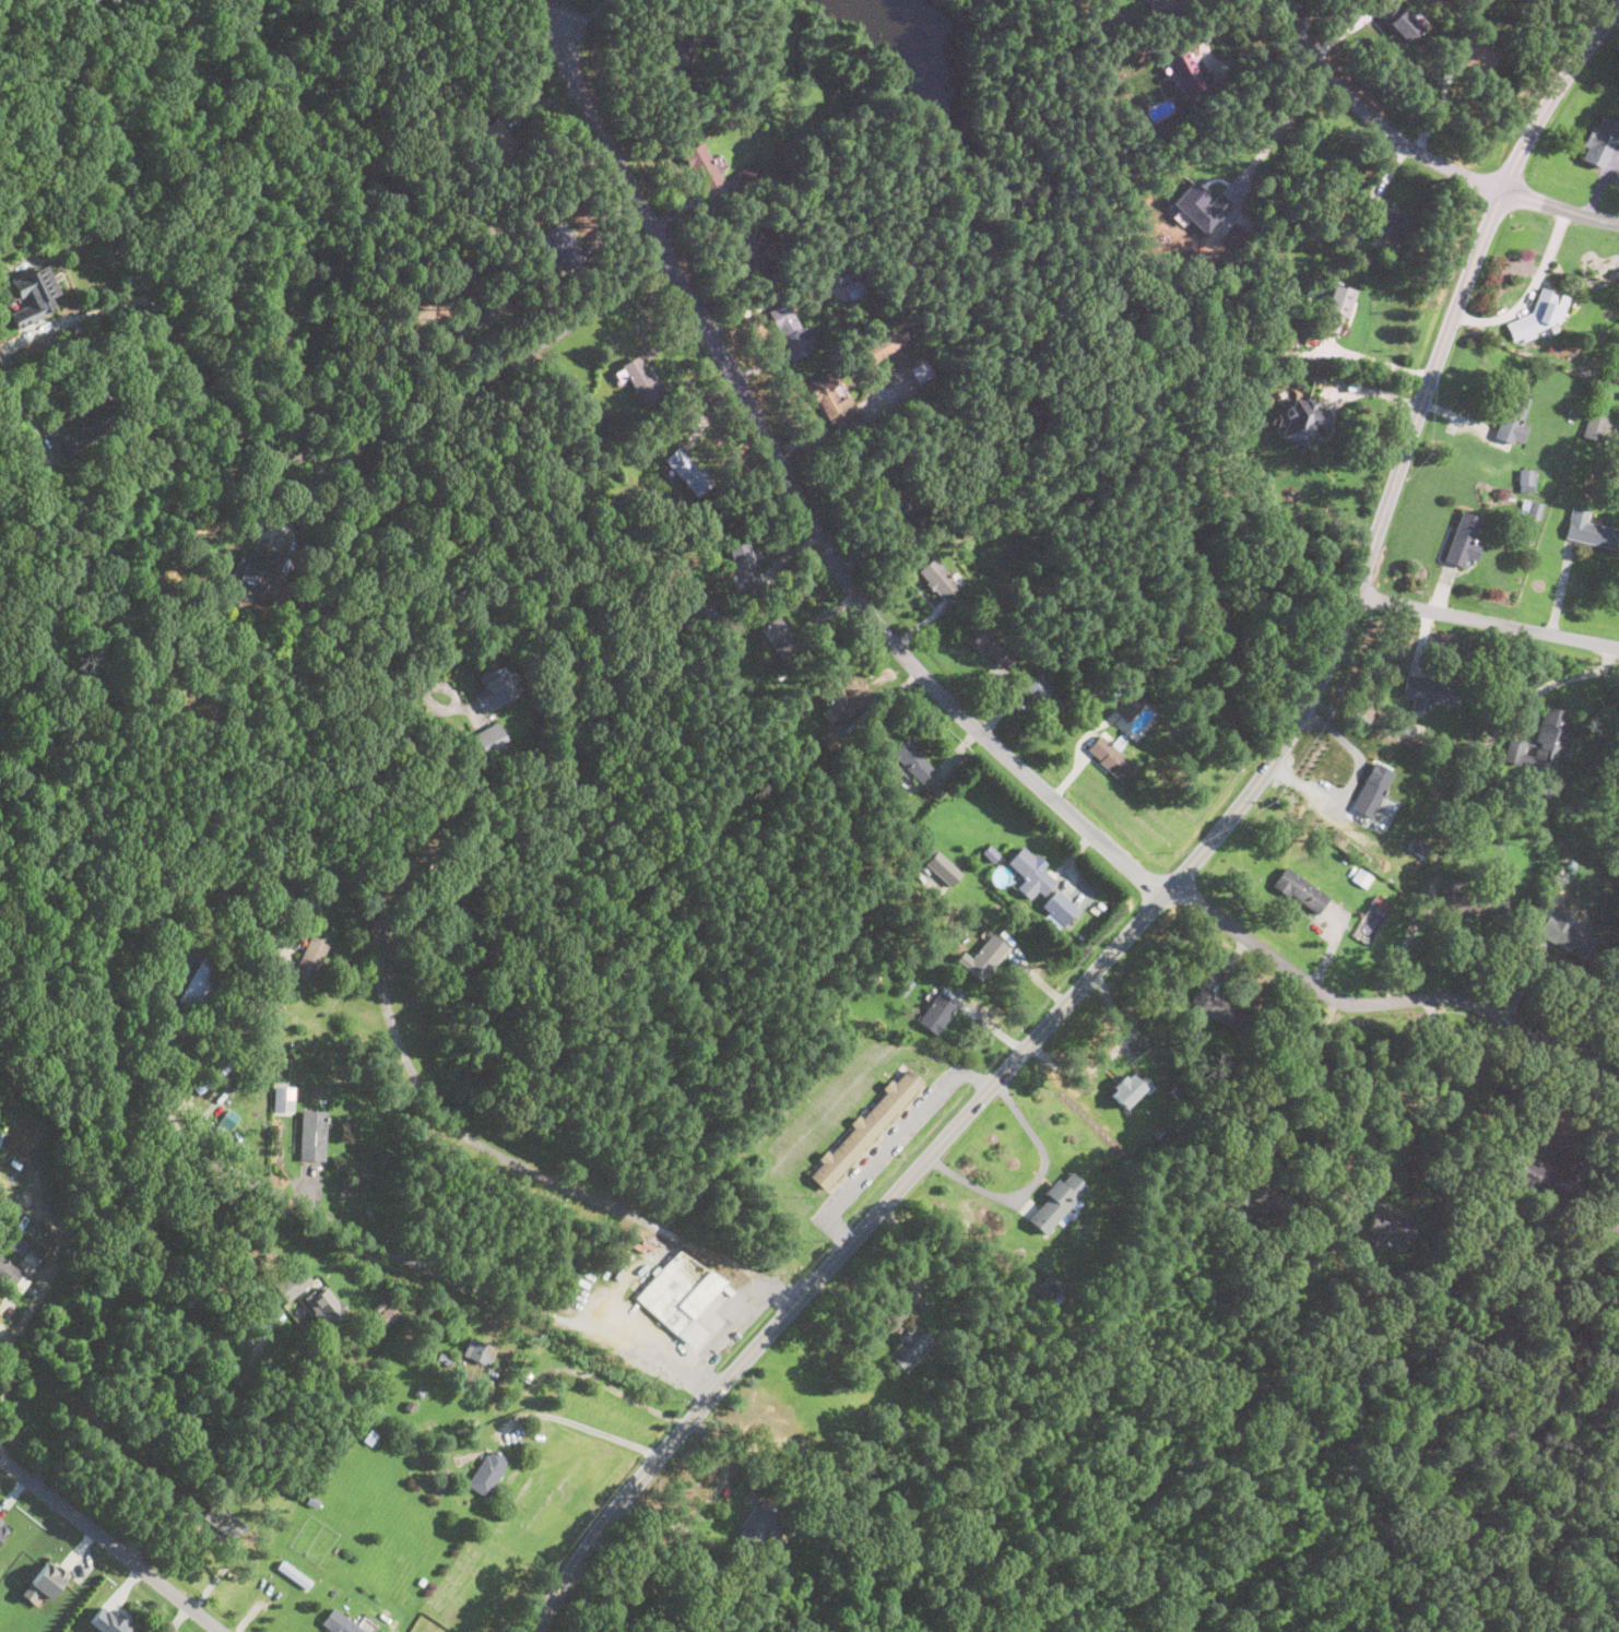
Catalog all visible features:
building: (103, 0)
road: (1179, 4)
road: (42, 5)
road: (546, 9)
road: (564, 9)
building: (1396, 17)
road: (4, 20)
building: (1466, 52)
building: (678, 57)
road: (1216, 62)
building: (1185, 72)
road: (1552, 94)
road: (1375, 120)
road: (1280, 128)
road: (122, 129)
building: (498, 141)
building: (1599, 142)
building: (701, 165)
building: (748, 175)
building: (1201, 205)
road: (1560, 208)
building: (1382, 217)
road: (114, 243)
building: (748, 243)
building: (566, 247)
building: (842, 275)
road: (1531, 292)
building: (33, 295)
building: (1337, 307)
road: (91, 314)
building: (476, 314)
building: (1541, 314)
building: (791, 330)
building: (881, 346)
road: (68, 352)
building: (2, 359)
road: (1379, 359)
building: (921, 370)
building: (638, 377)
building: (834, 400)
building: (90, 413)
building: (1304, 416)
building: (1513, 417)
building: (1595, 426)
road: (391, 435)
building: (60, 437)
building: (686, 470)
building: (1525, 478)
road: (298, 498)
road: (800, 498)
building: (1529, 507)
building: (1588, 529)
building: (1463, 537)
building: (743, 565)
building: (255, 567)
road: (389, 577)
building: (938, 579)
building: (1216, 600)
road: (1487, 619)
building: (777, 635)
building: (990, 644)
road: (1262, 667)
road: (1561, 679)
building: (494, 689)
building: (1430, 690)
building: (1044, 694)
building: (1127, 706)
building: (489, 737)
building: (1543, 743)
road: (1079, 752)
building: (1111, 757)
building: (913, 760)
building: (1371, 789)
building: (944, 868)
building: (1031, 875)
building: (1361, 876)
building: (1300, 889)
building: (1475, 902)
building: (1060, 909)
building: (1564, 932)
road: (1404, 946)
building: (985, 955)
building: (310, 957)
road: (1102, 961)
building: (200, 983)
road: (1387, 1001)
building: (1214, 1006)
building: (936, 1013)
road: (1292, 1065)
road: (977, 1078)
building: (1128, 1088)
building: (283, 1098)
road: (1428, 1101)
building: (865, 1130)
building: (312, 1135)
road: (894, 1145)
road: (1596, 1146)
road: (511, 1160)
building: (1533, 1173)
road: (246, 1179)
road: (1033, 1182)
building: (1267, 1195)
building: (1056, 1202)
building: (1391, 1223)
building: (1611, 1223)
road: (838, 1231)
building: (12, 1276)
building: (293, 1285)
building: (1051, 1290)
building: (679, 1294)
building: (323, 1304)
building: (388, 1314)
road: (729, 1334)
building: (910, 1347)
building: (478, 1351)
road: (10, 1357)
road: (245, 1375)
road: (598, 1379)
road: (580, 1423)
building: (488, 1471)
building: (225, 1518)
building: (758, 1524)
building: (3, 1528)
road: (110, 1542)
building: (294, 1573)
building: (48, 1578)
road: (178, 1618)
building: (108, 1620)
building: (346, 1622)

